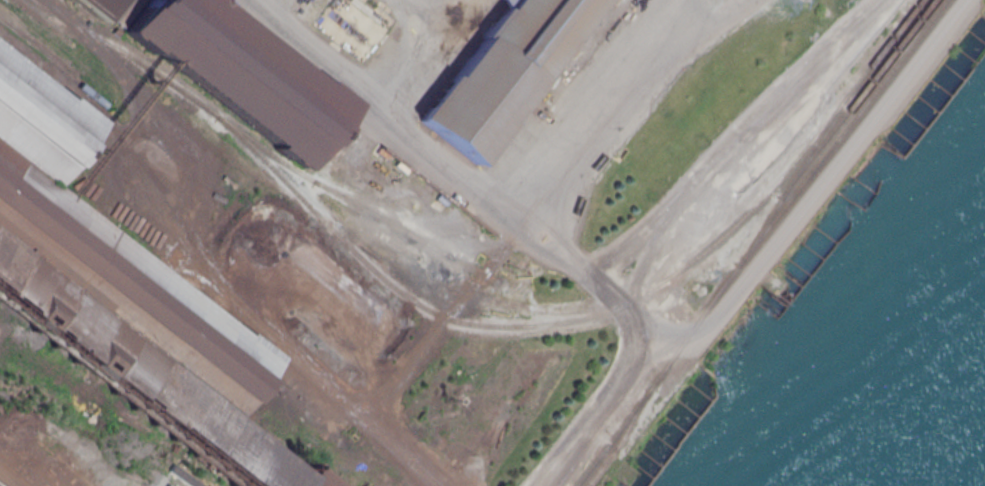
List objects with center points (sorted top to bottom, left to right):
building: (85, 7)
railway: (42, 20)
railway: (52, 64)
building: (238, 71)
building: (500, 71)
railway: (854, 97)
railway: (264, 146)
railway: (792, 179)
railway: (361, 197)
road: (506, 199)
railway: (756, 240)
building: (119, 298)
railway: (594, 313)
railway: (2, 484)

